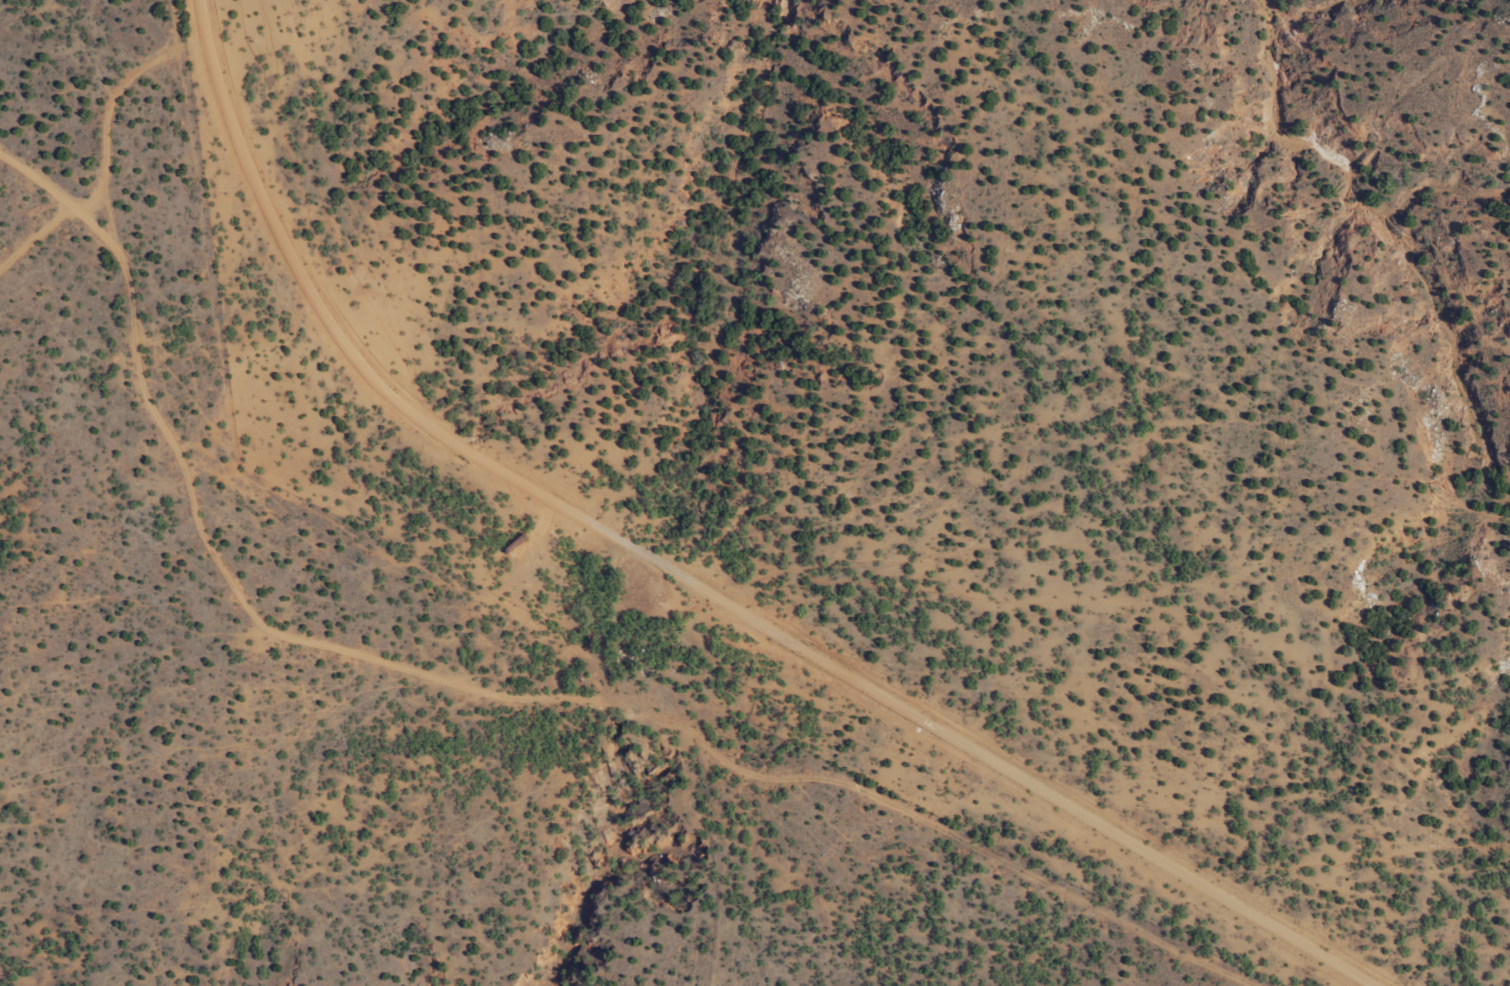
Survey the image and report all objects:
road: (303, 278)
road: (236, 372)
road: (935, 734)

